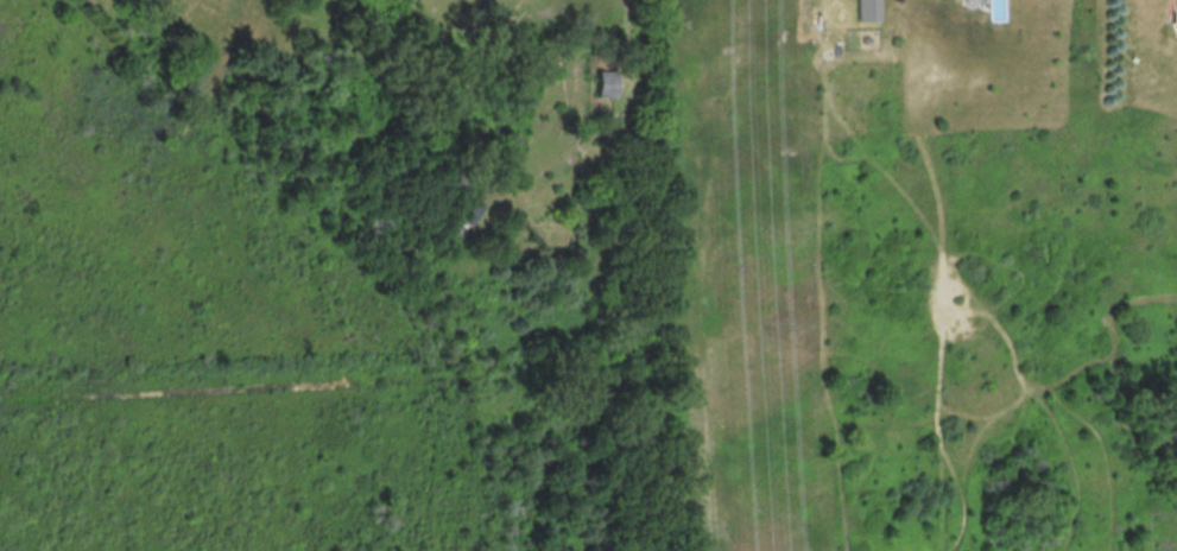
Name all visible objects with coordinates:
building: (867, 9)
building: (1176, 15)
building: (606, 82)
building: (473, 211)

